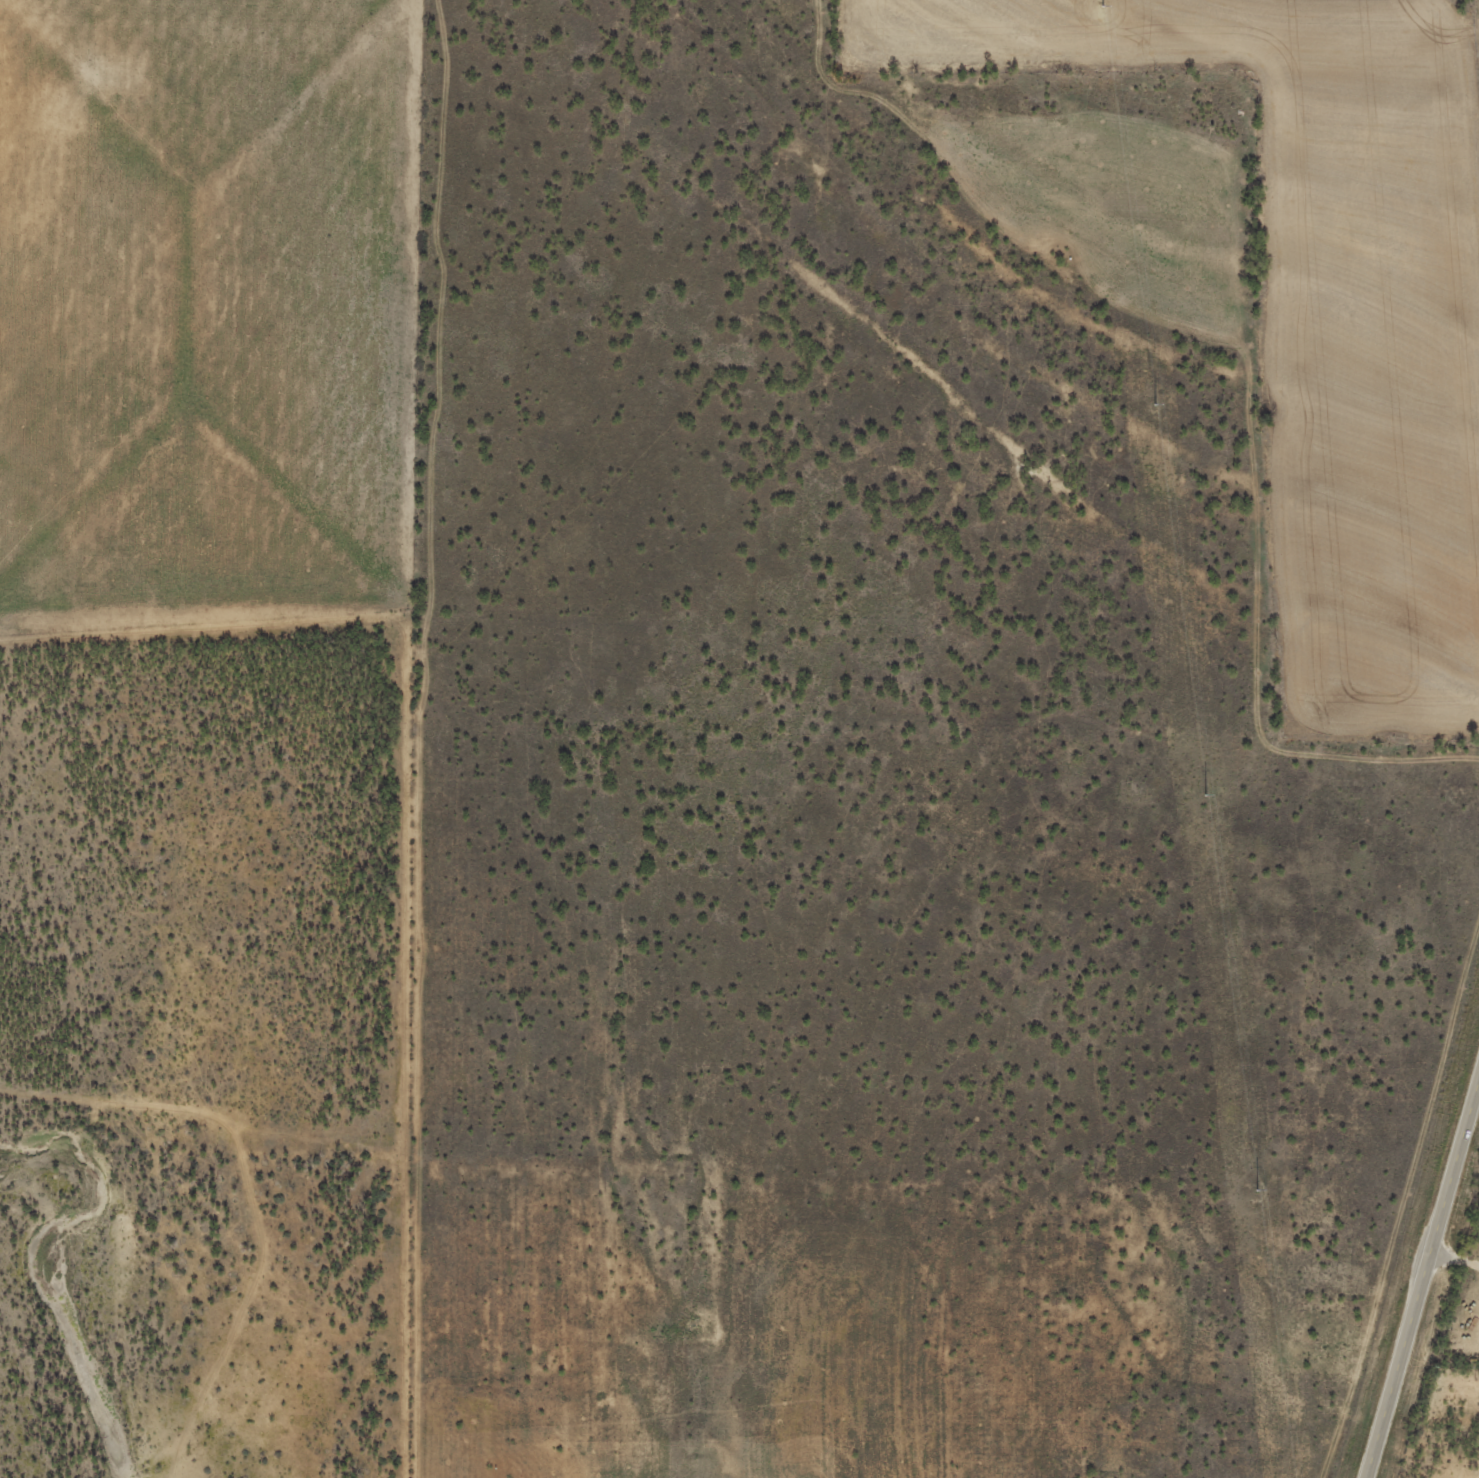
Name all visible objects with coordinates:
power tower: (1103, 5)
power tower: (1154, 404)
power tower: (1206, 793)
power tower: (1257, 1189)
road: (1423, 1281)

